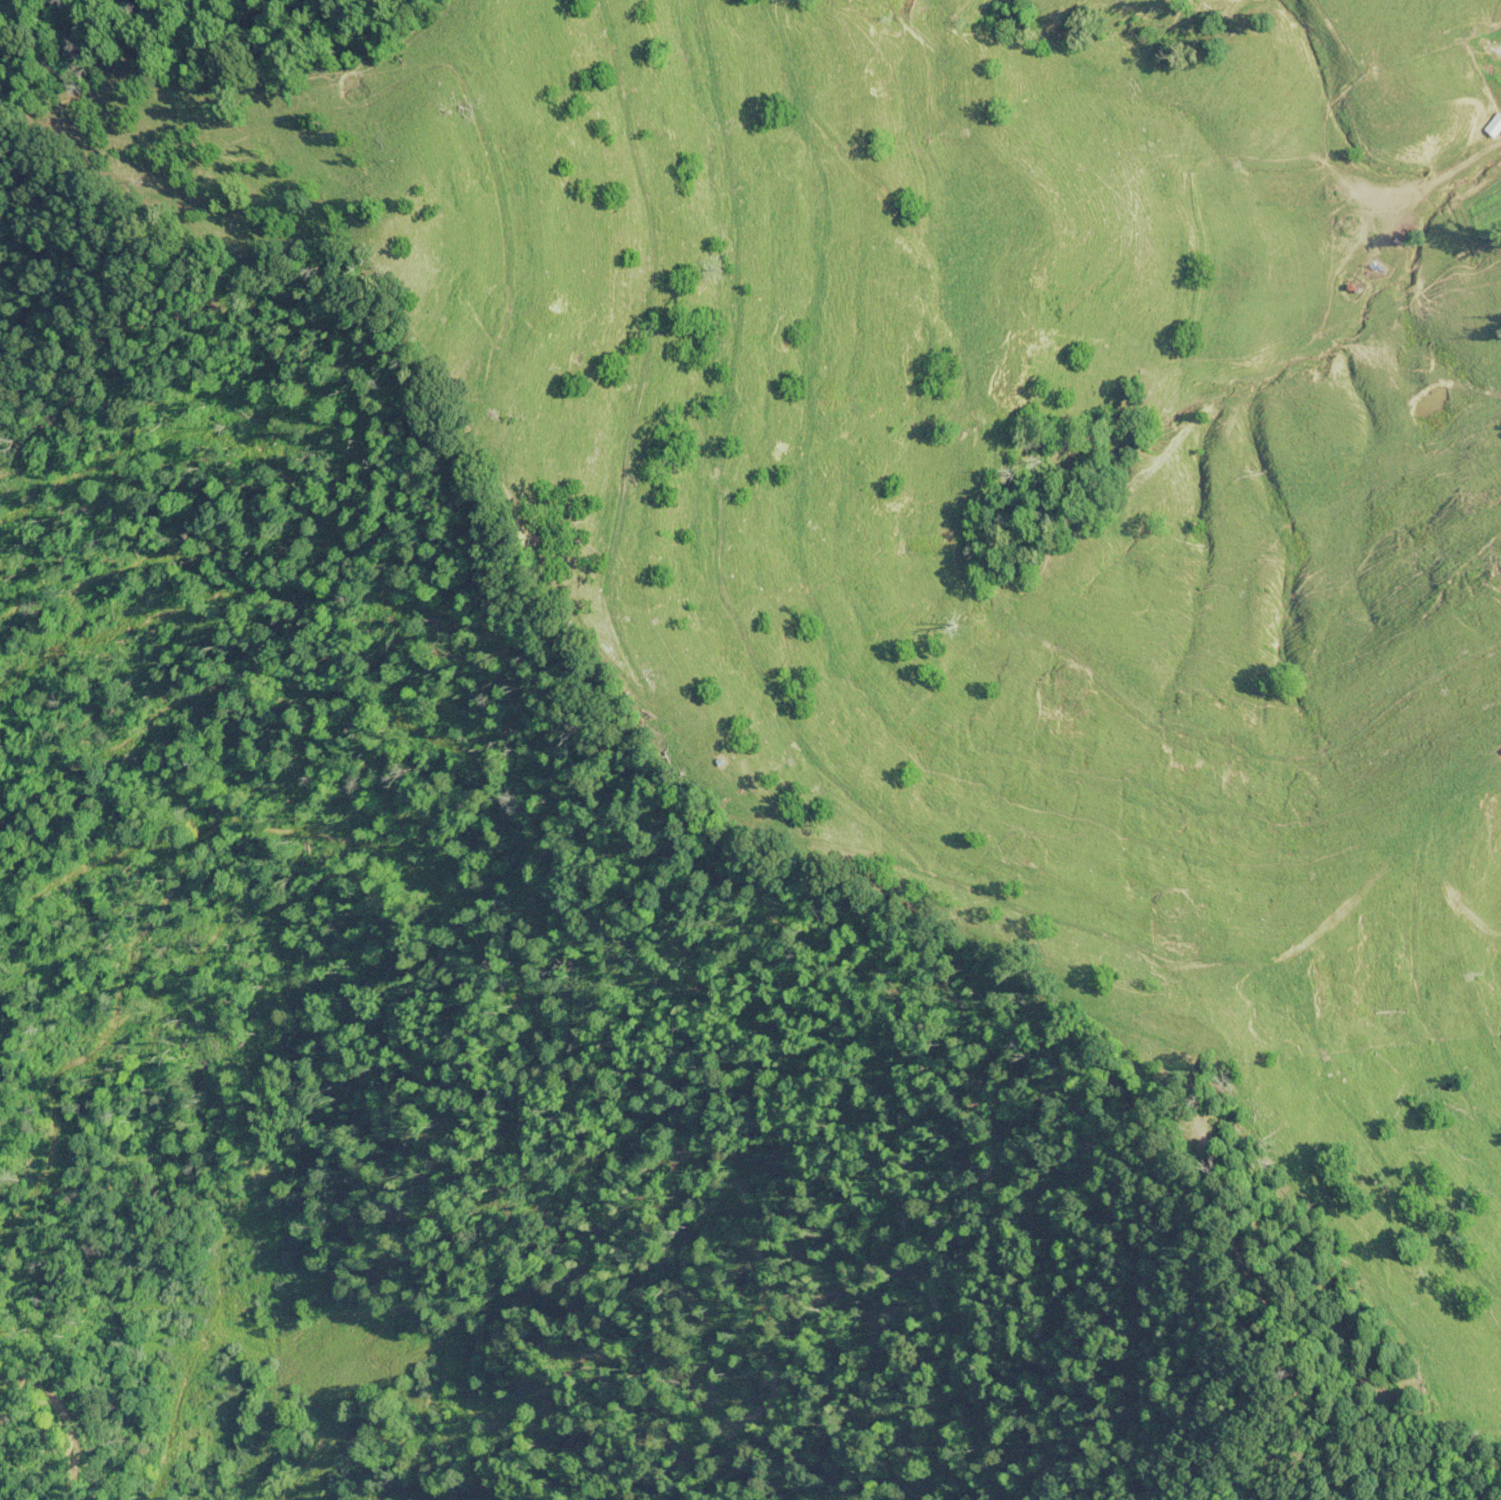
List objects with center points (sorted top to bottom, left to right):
building: (1495, 126)
road: (1458, 172)

